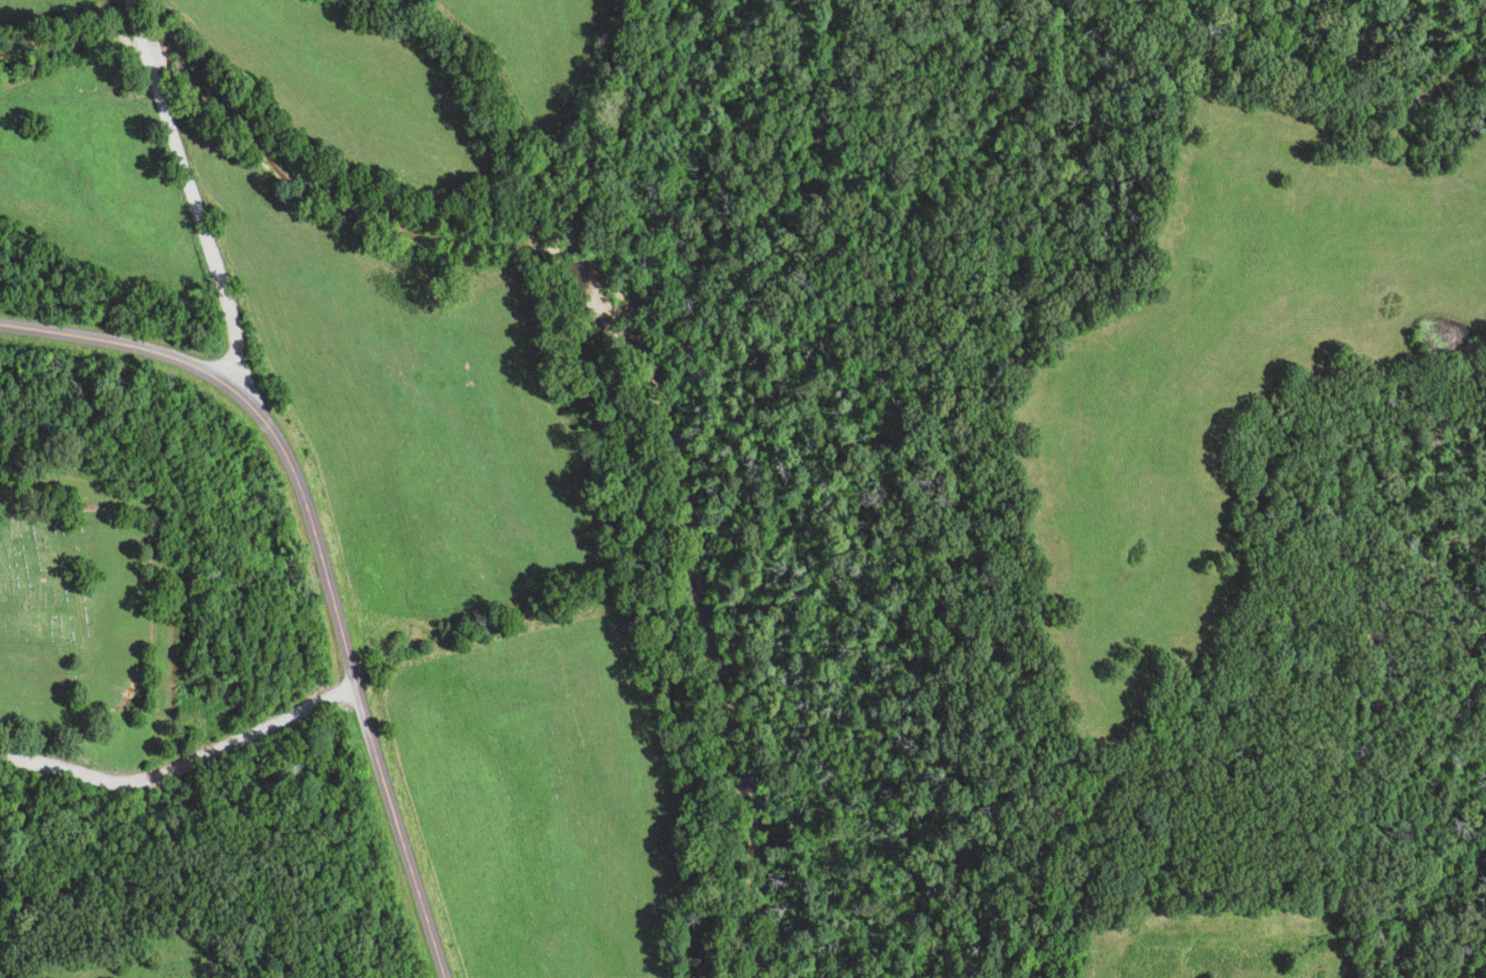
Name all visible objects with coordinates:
building: (84, 85)
building: (56, 112)
road: (189, 194)
road: (319, 558)
park: (74, 576)
road: (181, 767)

